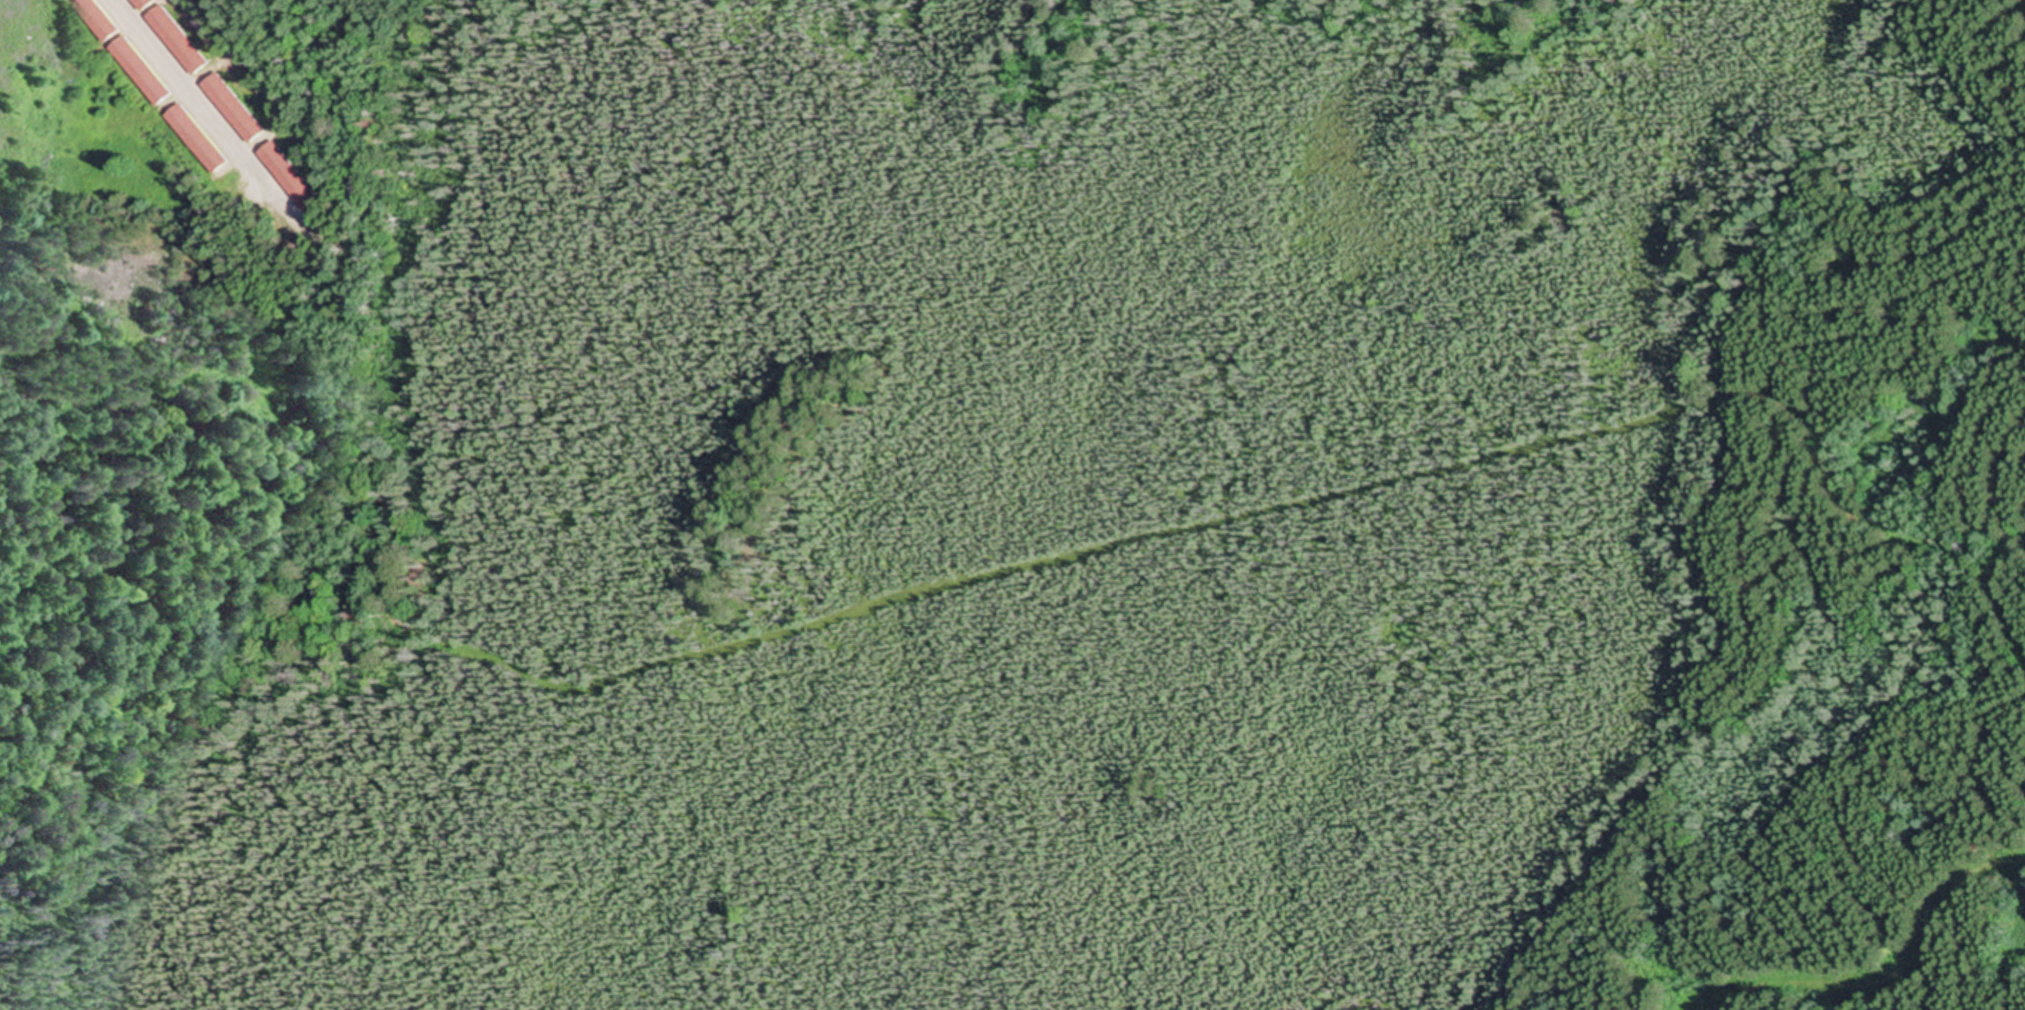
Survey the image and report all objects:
building: (146, 4)
building: (180, 40)
building: (121, 43)
road: (204, 104)
building: (236, 108)
building: (292, 176)
road: (2017, 503)

